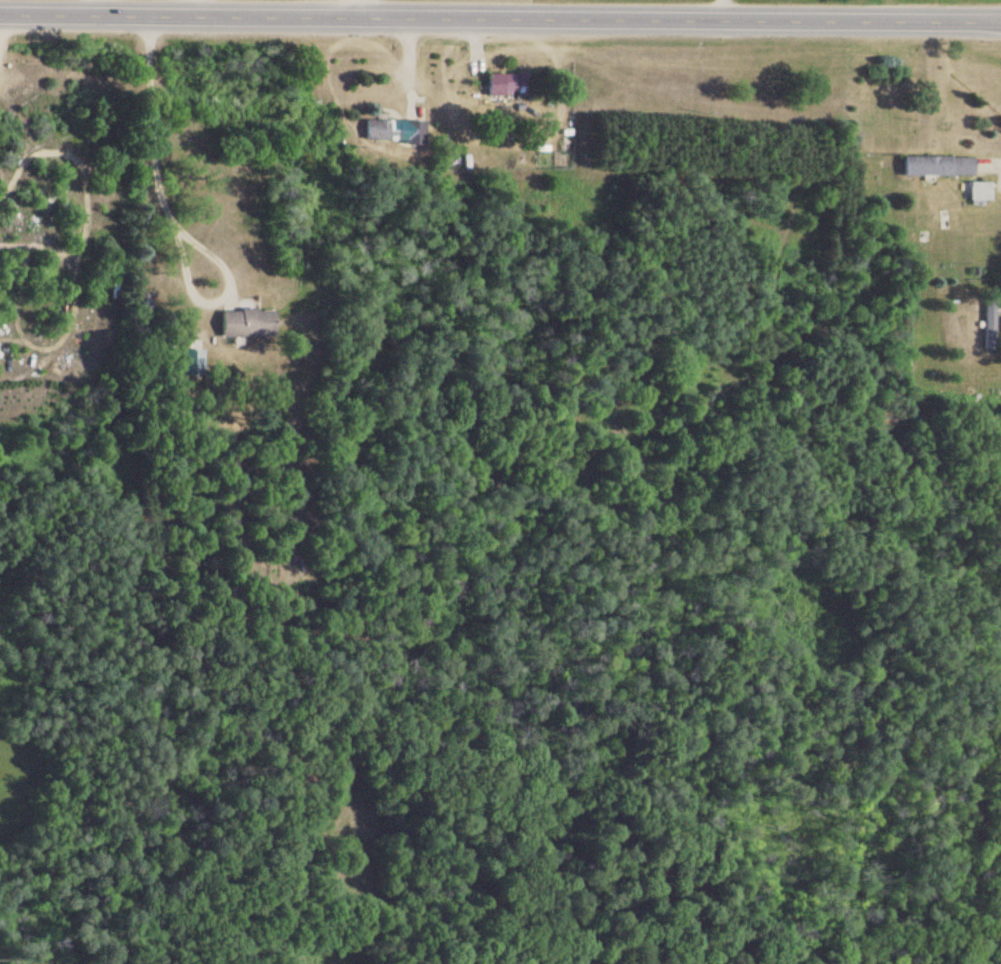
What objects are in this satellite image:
road: (356, 9)
road: (500, 19)
building: (505, 83)
building: (394, 131)
building: (937, 165)
building: (979, 191)
building: (245, 323)
building: (988, 326)

